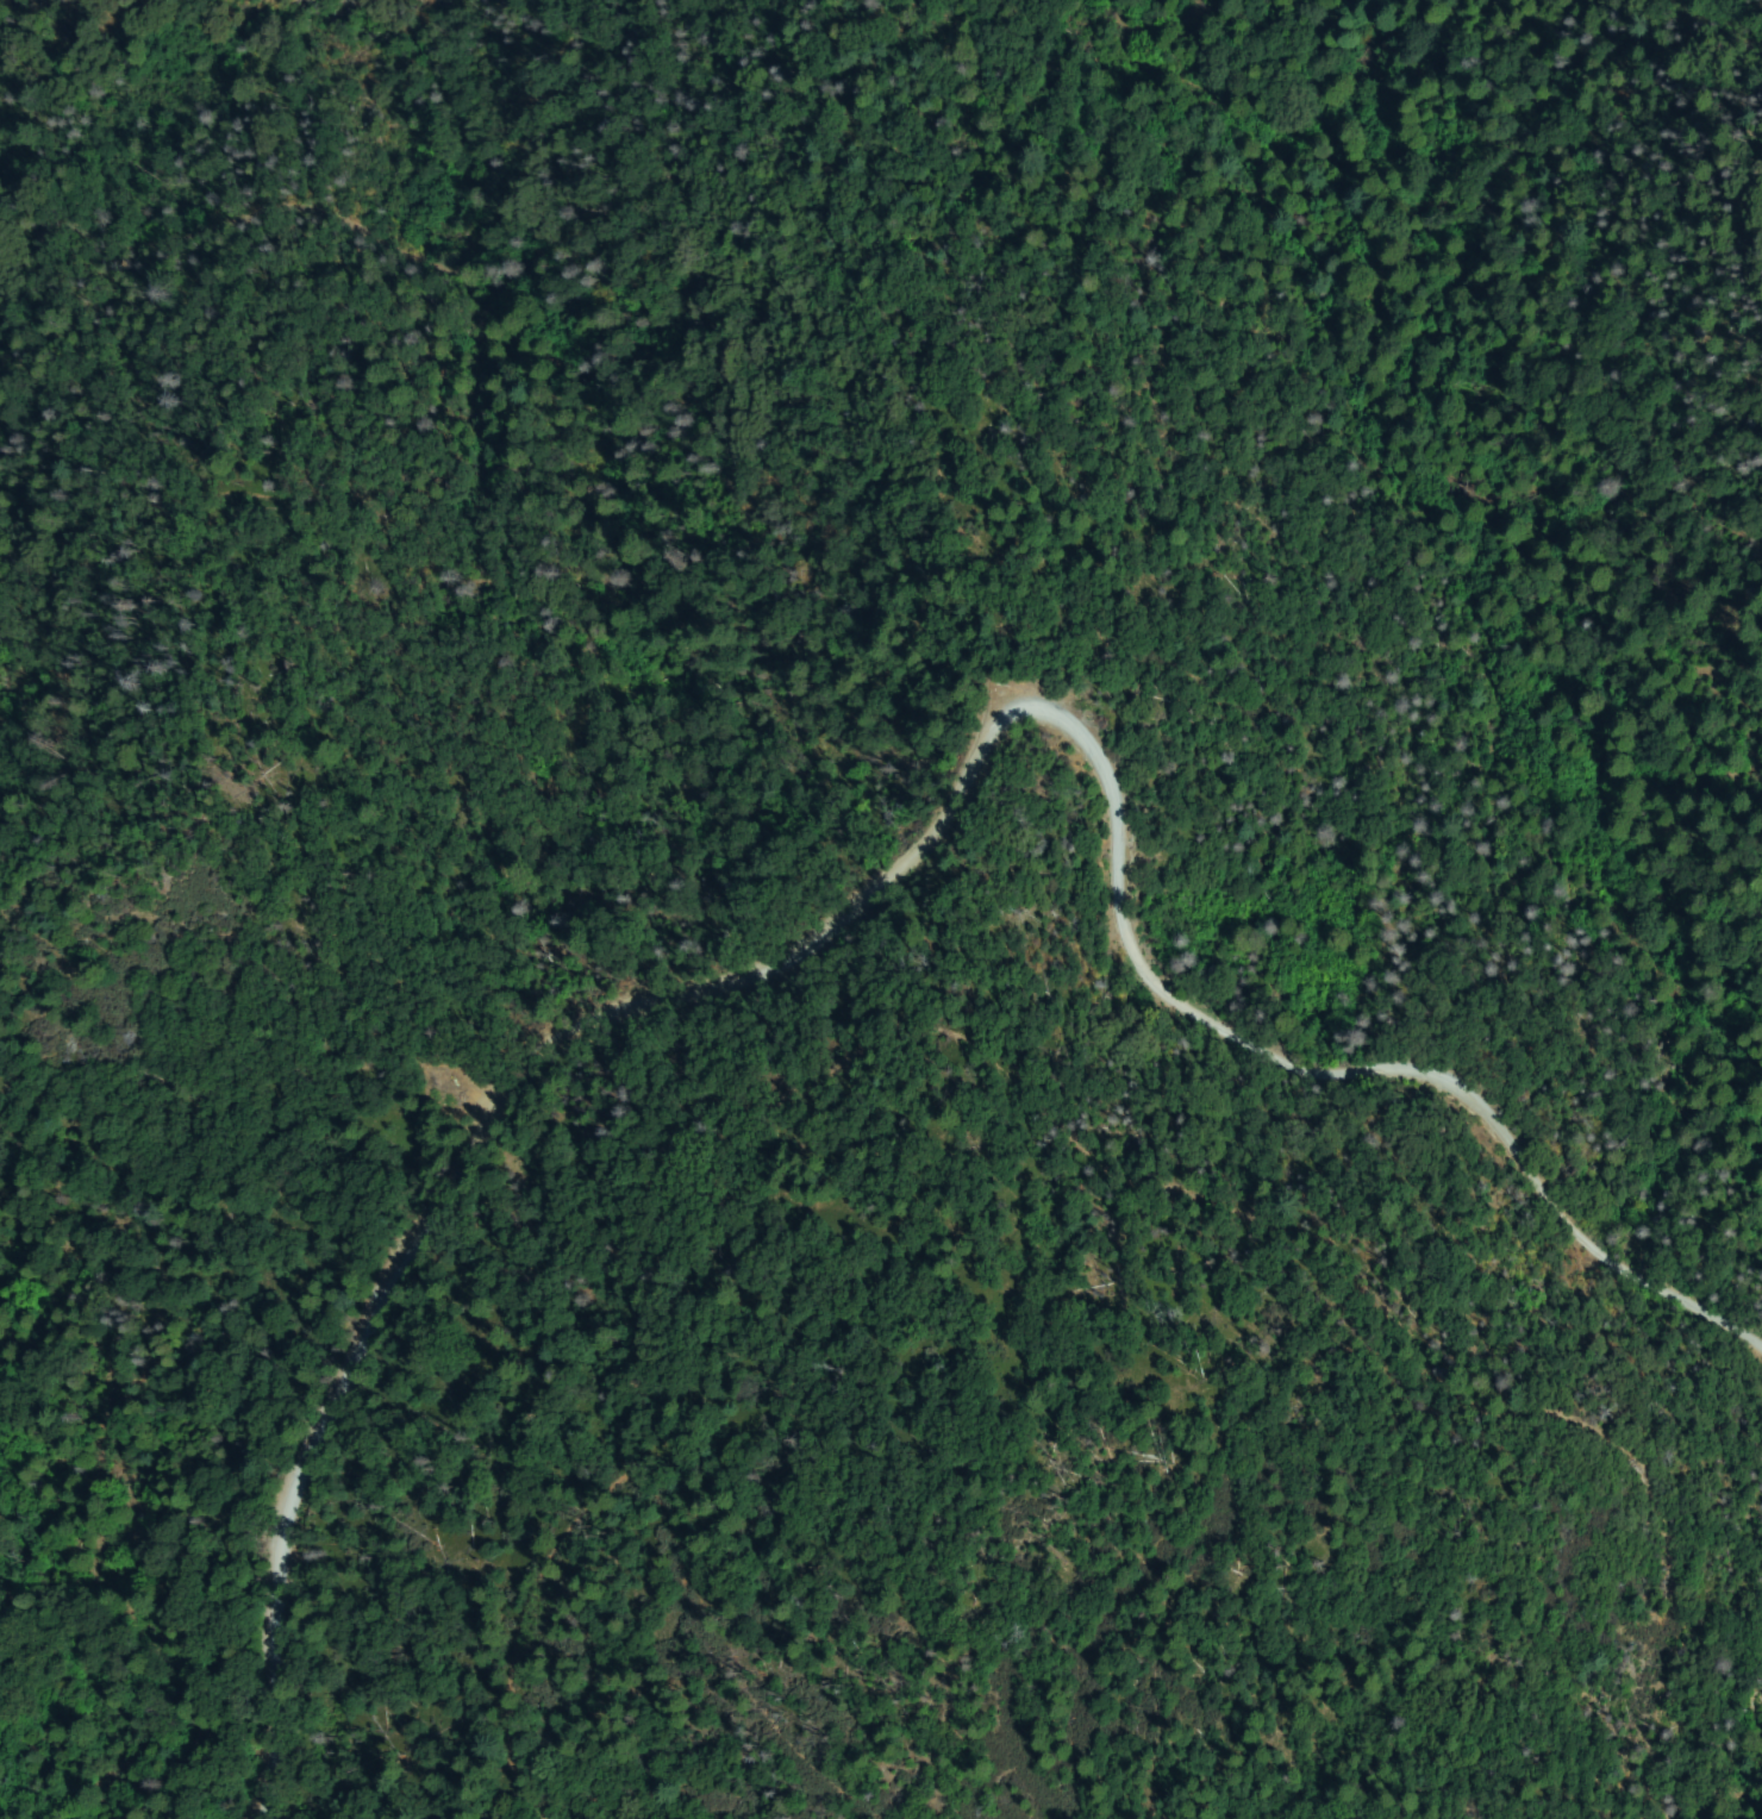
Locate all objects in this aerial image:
road: (910, 835)

